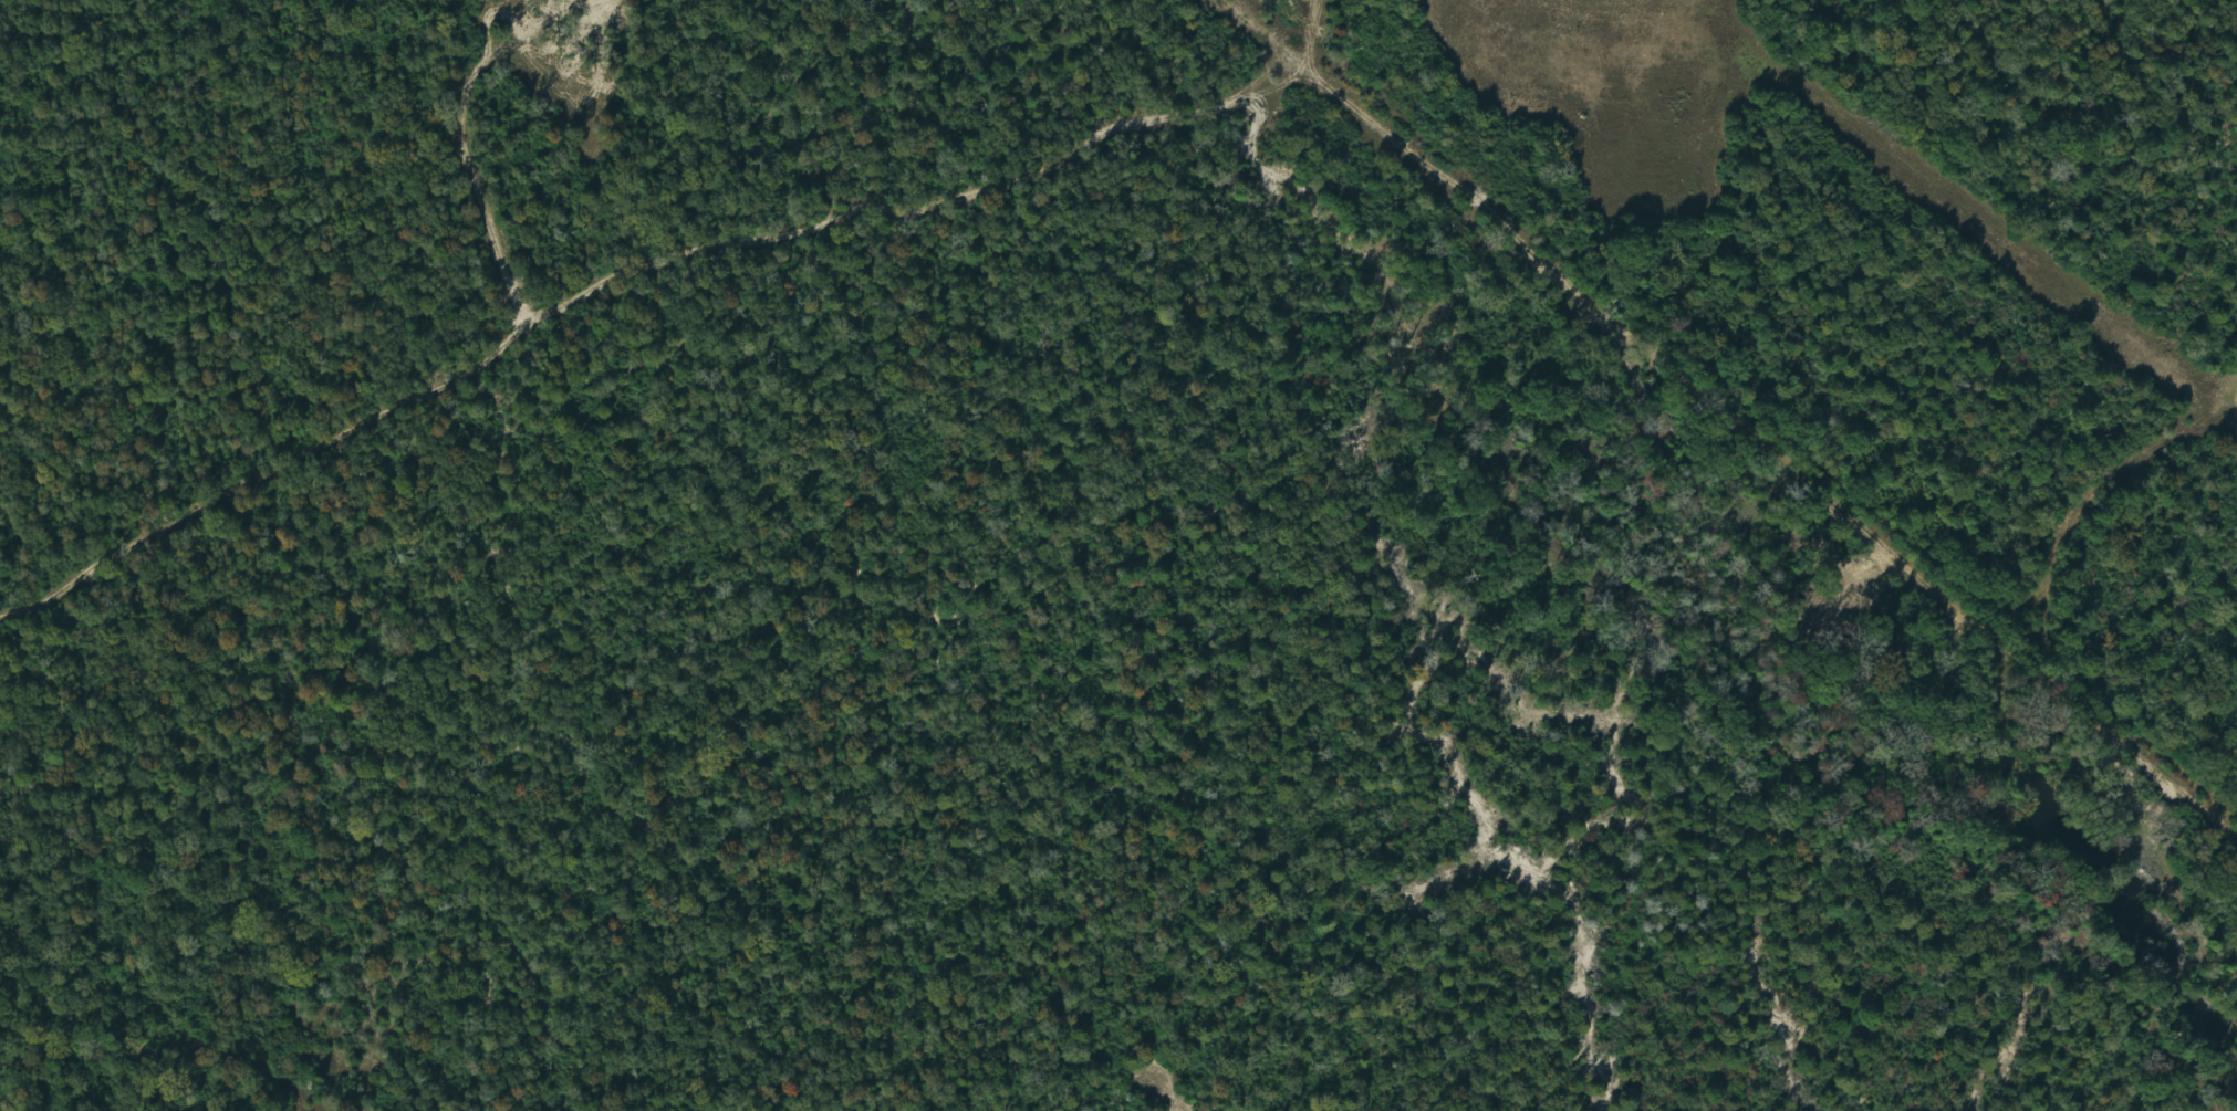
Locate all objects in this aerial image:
road: (2015, 622)

